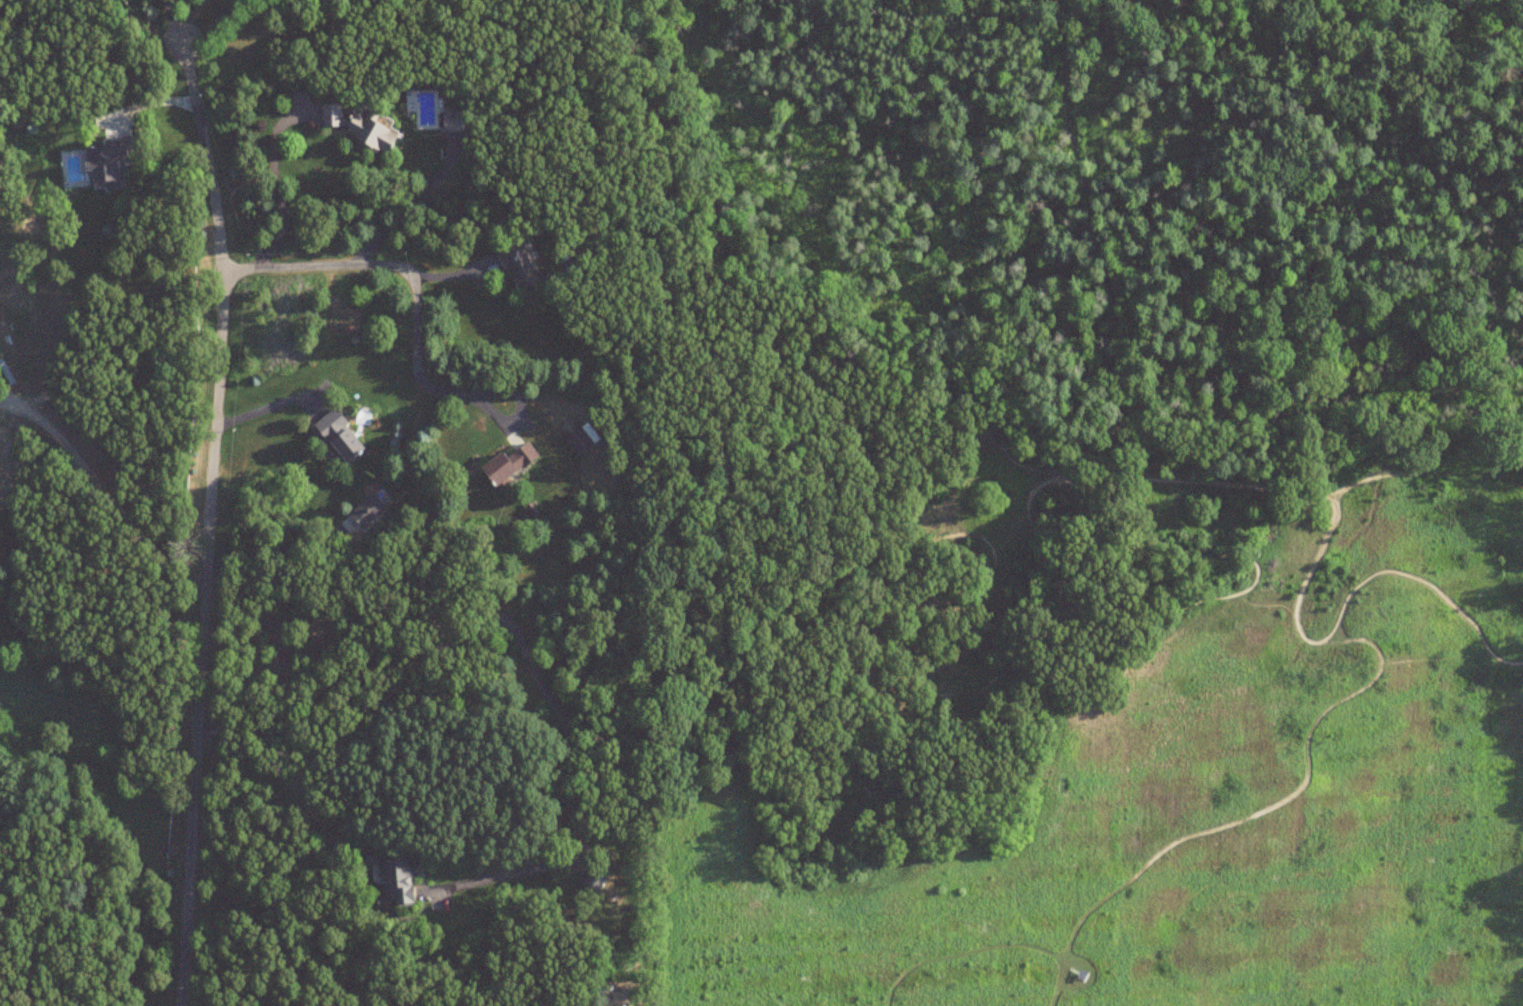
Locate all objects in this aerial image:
road: (172, 25)
road: (211, 25)
building: (331, 115)
building: (452, 121)
building: (371, 131)
building: (106, 165)
road: (274, 185)
road: (409, 209)
building: (517, 263)
road: (408, 276)
road: (270, 409)
road: (965, 431)
building: (338, 436)
building: (577, 441)
road: (1086, 455)
building: (507, 464)
road: (97, 483)
park: (1080, 500)
building: (366, 511)
road: (770, 525)
road: (207, 527)
road: (269, 549)
road: (834, 635)
road: (520, 641)
building: (394, 881)
building: (596, 883)

